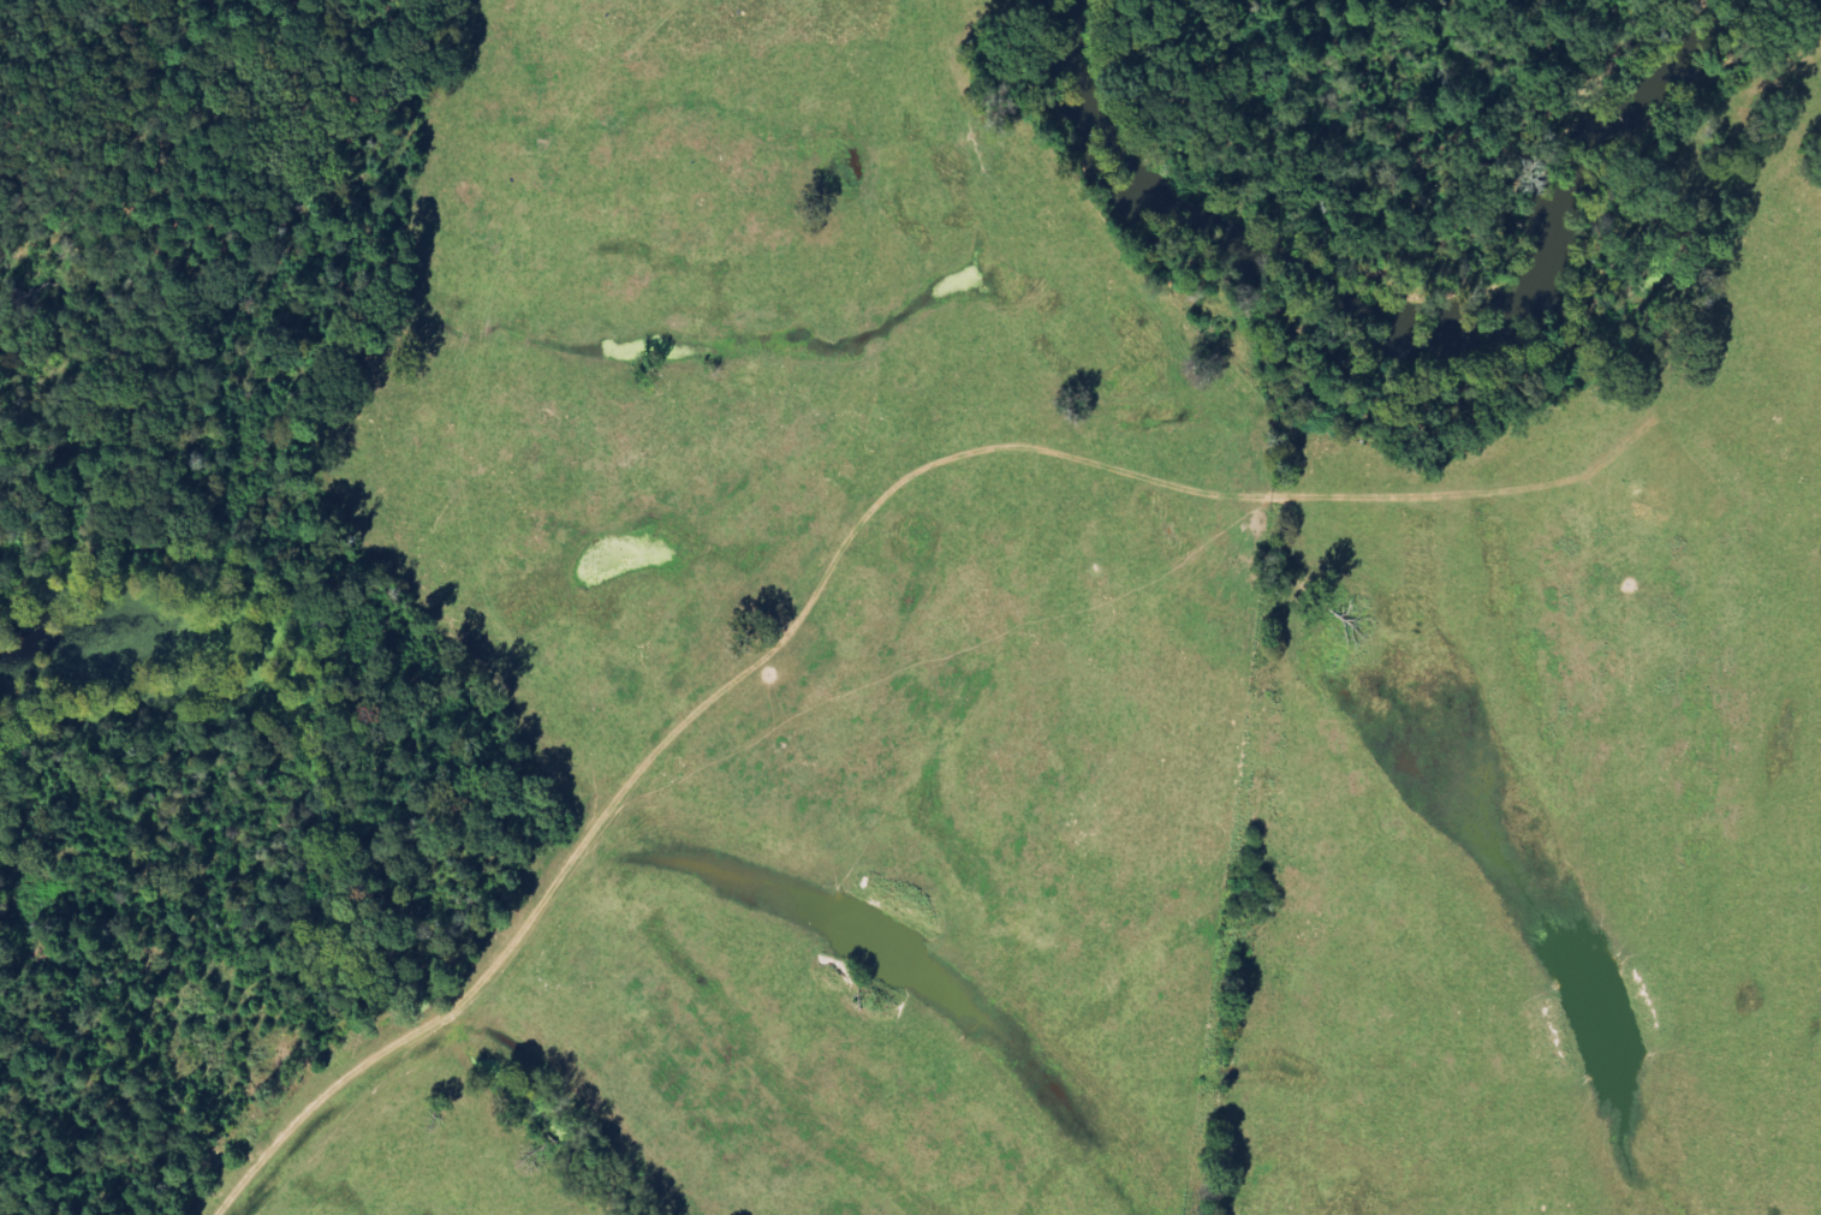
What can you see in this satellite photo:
river: (1416, 326)

